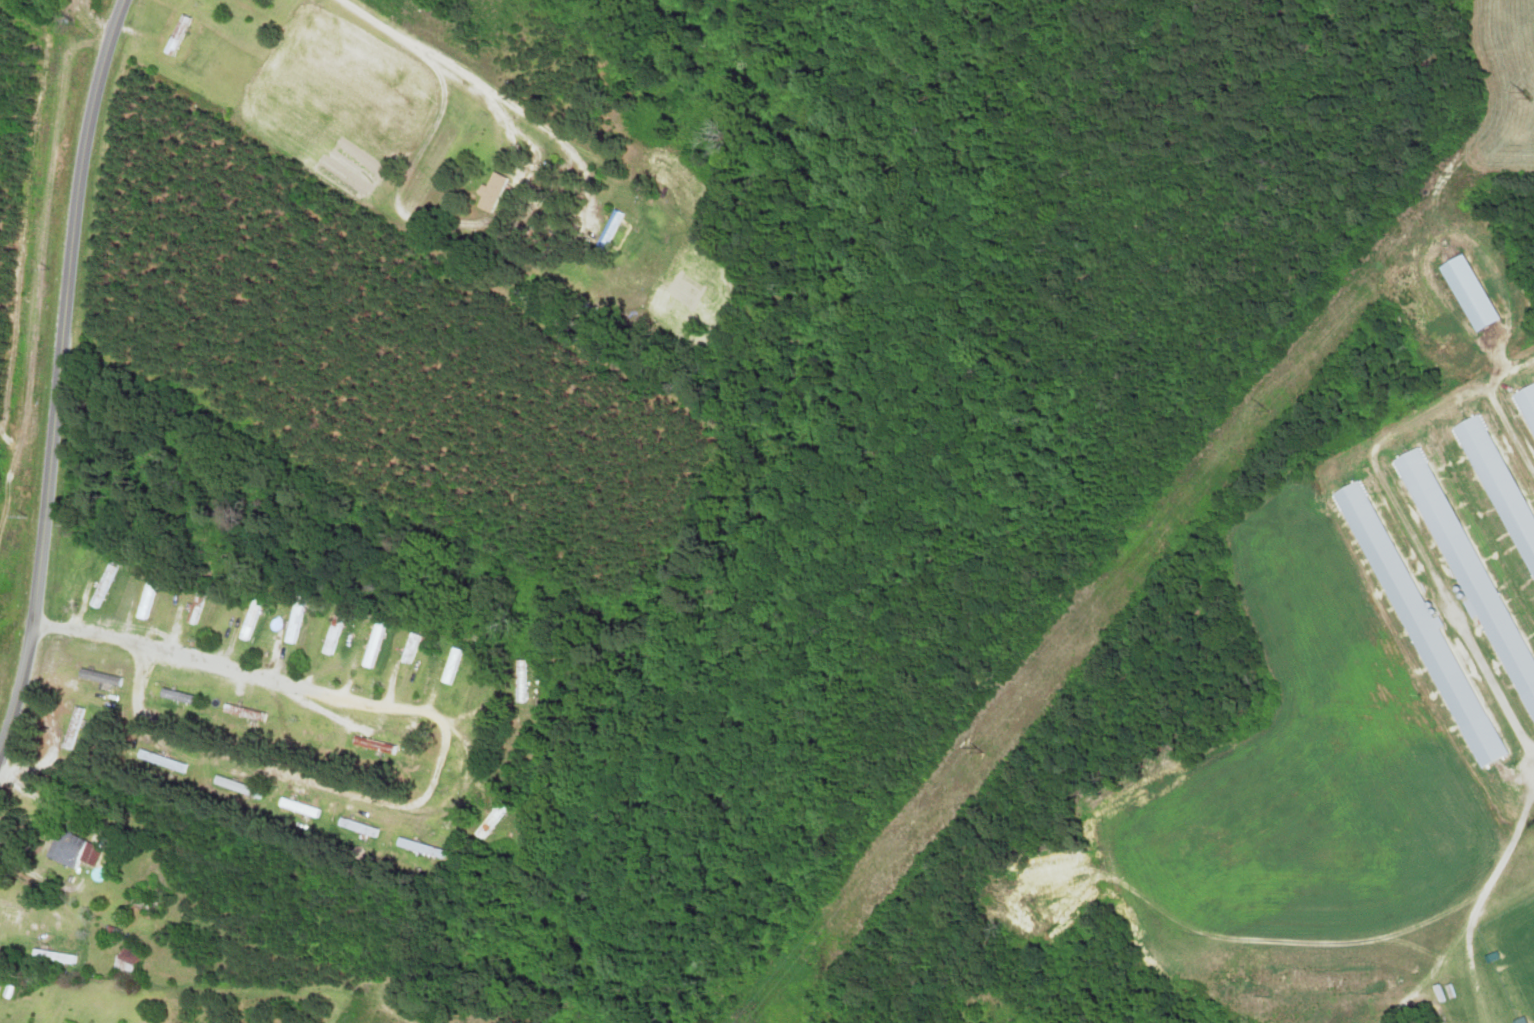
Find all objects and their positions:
building: (175, 35)
power tower: (1526, 96)
building: (488, 191)
building: (609, 228)
building: (1466, 294)
road: (60, 374)
power tower: (1260, 400)
building: (1466, 568)
building: (101, 586)
building: (145, 599)
building: (249, 618)
building: (293, 619)
road: (82, 630)
building: (332, 631)
building: (410, 648)
building: (451, 666)
building: (97, 677)
building: (515, 680)
building: (178, 696)
building: (243, 712)
building: (72, 728)
building: (373, 745)
power tower: (978, 748)
road: (232, 758)
building: (161, 760)
building: (237, 786)
building: (489, 817)
building: (358, 828)
building: (419, 848)
building: (70, 849)
building: (126, 955)

